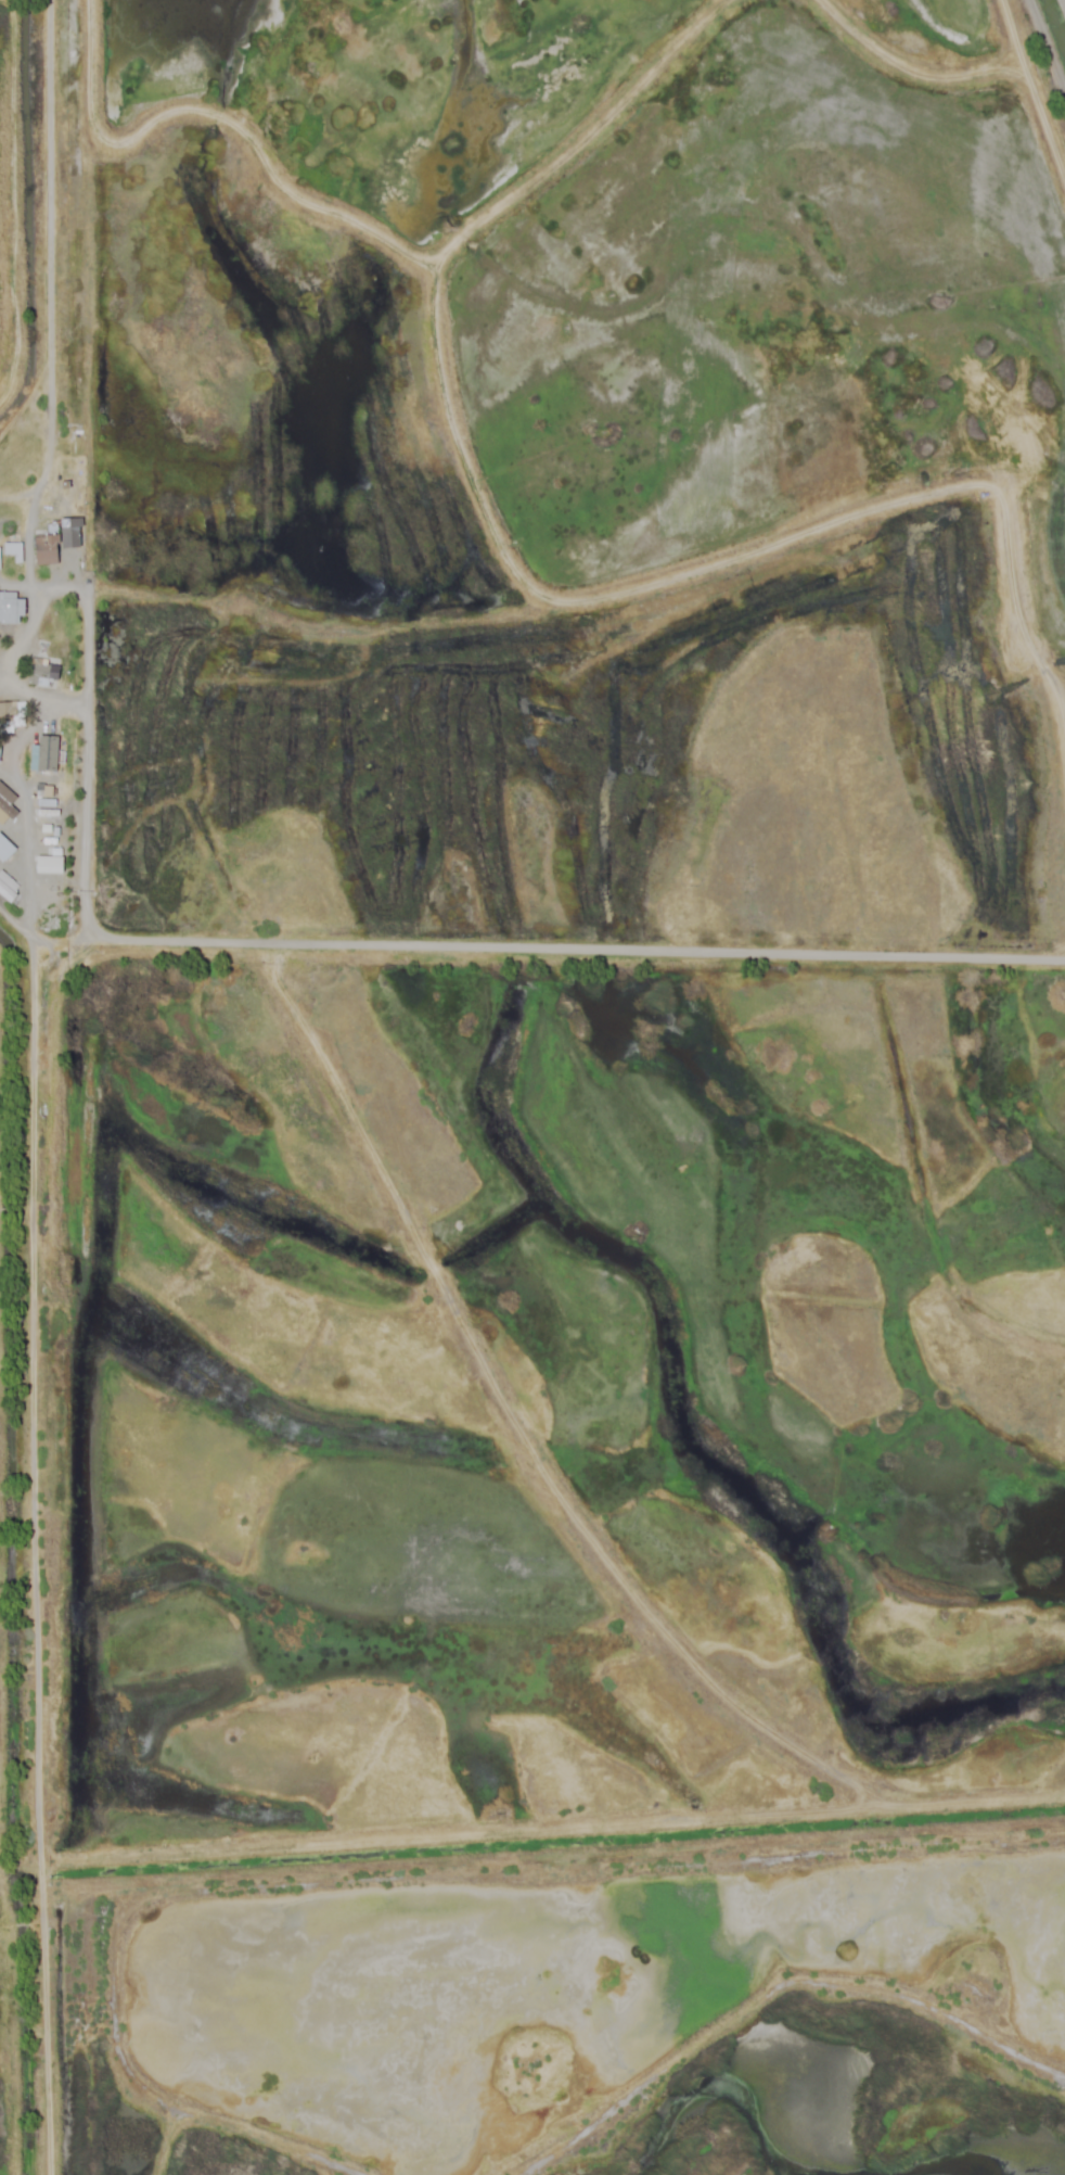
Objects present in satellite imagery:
building: (46, 549)
road: (53, 585)
building: (7, 607)
road: (93, 614)
building: (41, 673)
building: (7, 712)
building: (43, 755)
building: (4, 809)
building: (4, 850)
building: (7, 892)
road: (579, 954)

